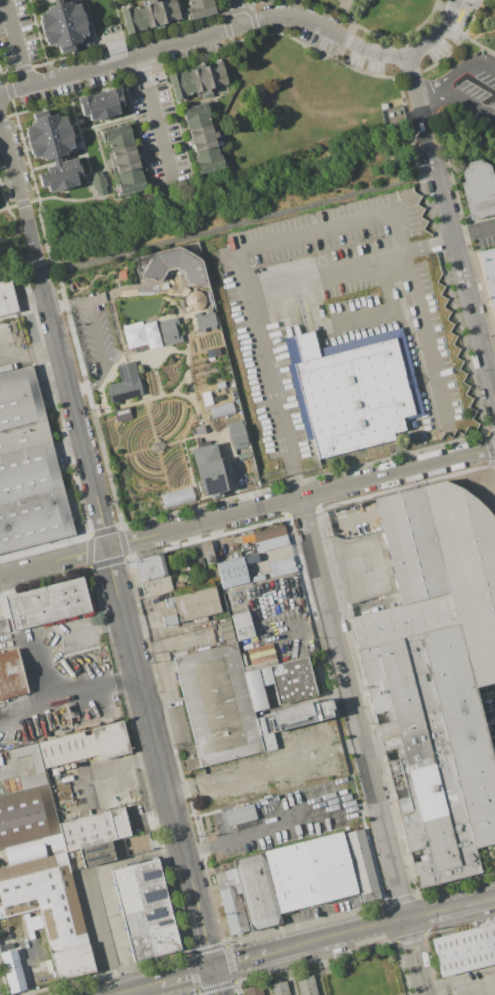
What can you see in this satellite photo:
building: (47, 0)
building: (55, 0)
road: (442, 5)
building: (200, 8)
building: (173, 11)
road: (240, 11)
building: (155, 14)
building: (61, 15)
building: (134, 19)
road: (353, 20)
road: (327, 30)
road: (438, 33)
building: (69, 36)
road: (191, 36)
road: (402, 36)
road: (40, 41)
road: (18, 42)
building: (116, 47)
road: (484, 66)
building: (220, 73)
road: (70, 74)
building: (204, 78)
road: (448, 82)
building: (183, 85)
parking lot: (472, 85)
park: (468, 86)
road: (418, 97)
road: (468, 102)
building: (102, 104)
road: (157, 117)
building: (197, 117)
building: (46, 127)
building: (119, 135)
building: (203, 136)
building: (51, 146)
building: (207, 157)
road: (434, 157)
building: (125, 158)
building: (60, 174)
building: (131, 182)
building: (98, 183)
building: (478, 189)
road: (91, 198)
road: (338, 226)
road: (211, 228)
road: (474, 232)
road: (427, 246)
building: (171, 265)
road: (323, 273)
building: (489, 274)
road: (466, 287)
building: (7, 297)
building: (195, 301)
road: (356, 319)
building: (205, 321)
building: (170, 332)
building: (141, 336)
road: (97, 337)
road: (29, 352)
building: (211, 352)
road: (187, 355)
building: (124, 383)
building: (356, 390)
road: (151, 397)
building: (220, 412)
building: (121, 415)
building: (236, 438)
road: (288, 457)
building: (27, 468)
building: (208, 468)
building: (176, 498)
road: (302, 498)
road: (99, 507)
building: (268, 536)
road: (54, 560)
building: (149, 566)
building: (281, 566)
building: (231, 572)
building: (155, 585)
building: (46, 603)
building: (190, 606)
building: (241, 625)
building: (3, 626)
building: (260, 656)
building: (258, 665)
building: (436, 674)
building: (10, 675)
building: (291, 680)
building: (257, 687)
road: (69, 690)
building: (215, 703)
parking lot: (489, 713)
building: (293, 715)
building: (84, 745)
road: (362, 746)
road: (118, 764)
building: (36, 766)
building: (251, 784)
building: (238, 814)
building: (26, 815)
building: (92, 829)
road: (236, 835)
building: (95, 853)
building: (320, 870)
road: (108, 889)
building: (246, 895)
building: (44, 898)
building: (143, 910)
road: (435, 911)
road: (98, 935)
road: (203, 936)
road: (321, 941)
building: (465, 950)
road: (24, 958)
building: (72, 962)
road: (238, 962)
traffic signals: (211, 969)
building: (11, 971)
road: (184, 975)
road: (214, 982)
building: (306, 985)
road: (141, 987)
building: (278, 988)
building: (253, 991)
road: (116, 993)
road: (113, 994)
building: (403, 994)
road: (493, 994)

